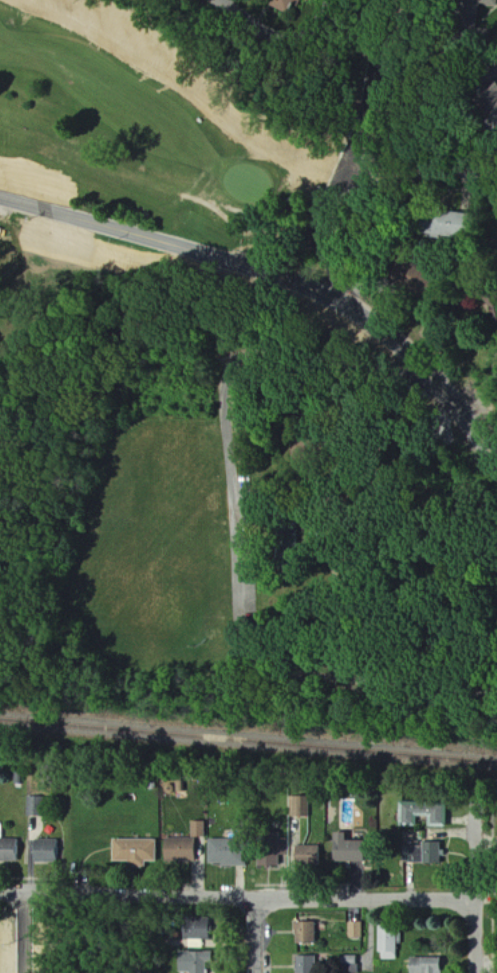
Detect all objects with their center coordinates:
road: (280, 30)
park: (134, 139)
road: (348, 152)
road: (418, 171)
road: (281, 246)
road: (279, 278)
road: (234, 516)
park: (262, 524)
railway: (248, 742)
building: (20, 778)
building: (38, 806)
building: (300, 808)
building: (421, 812)
building: (199, 828)
building: (271, 848)
building: (348, 849)
building: (9, 850)
building: (47, 850)
building: (181, 850)
building: (134, 851)
building: (229, 852)
building: (424, 853)
building: (307, 856)
road: (240, 893)
building: (197, 928)
building: (356, 929)
building: (306, 932)
road: (260, 933)
road: (481, 933)
building: (388, 943)
building: (350, 960)
building: (196, 961)
building: (306, 964)
building: (427, 965)

